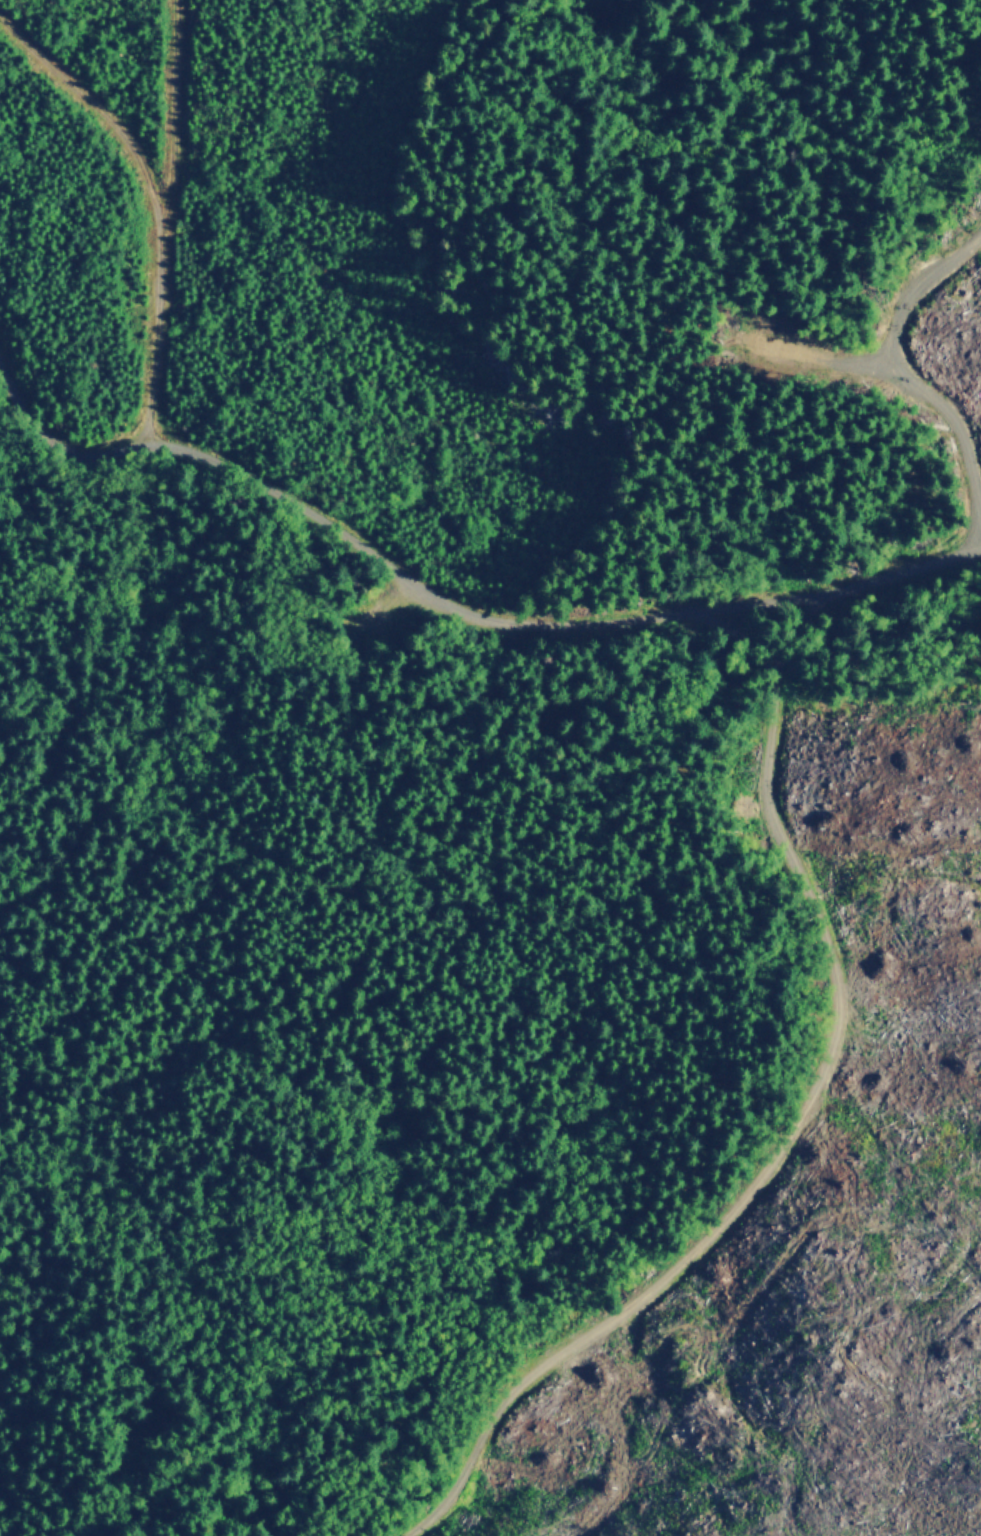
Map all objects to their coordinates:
road: (98, 111)
road: (159, 218)
road: (890, 331)
road: (58, 448)
road: (885, 627)
road: (789, 843)

